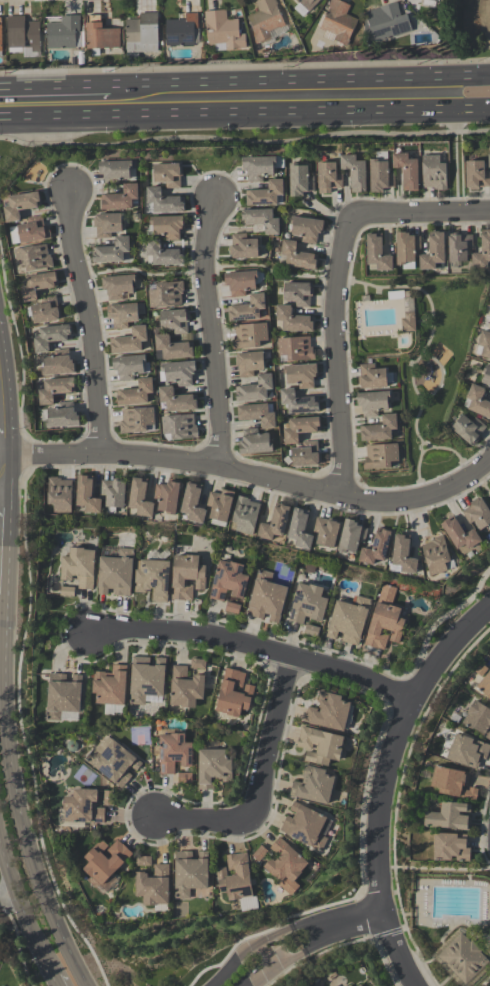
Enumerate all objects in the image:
building: (437, 0)
building: (429, 3)
building: (304, 6)
building: (265, 20)
building: (337, 23)
building: (385, 23)
building: (181, 31)
building: (223, 32)
building: (64, 33)
building: (141, 33)
building: (100, 35)
building: (23, 36)
building: (0, 41)
road: (300, 83)
road: (55, 89)
road: (244, 113)
building: (489, 160)
road: (455, 162)
building: (260, 166)
building: (117, 170)
building: (406, 170)
building: (354, 172)
building: (433, 173)
building: (167, 175)
building: (476, 175)
building: (379, 176)
building: (328, 178)
building: (299, 180)
building: (264, 194)
building: (119, 198)
building: (163, 201)
building: (21, 205)
road: (419, 216)
building: (260, 219)
building: (106, 225)
building: (167, 226)
building: (306, 229)
building: (30, 231)
building: (242, 247)
building: (459, 247)
building: (406, 249)
building: (111, 251)
building: (482, 252)
building: (433, 253)
building: (163, 254)
building: (377, 254)
building: (297, 256)
building: (33, 258)
building: (240, 283)
building: (38, 285)
building: (118, 287)
building: (298, 293)
building: (166, 294)
building: (489, 302)
building: (247, 309)
building: (45, 310)
building: (122, 315)
building: (293, 320)
road: (88, 321)
building: (174, 321)
building: (407, 322)
building: (489, 326)
road: (209, 332)
building: (249, 335)
building: (50, 337)
building: (129, 341)
building: (484, 344)
building: (173, 348)
building: (295, 349)
road: (336, 355)
building: (58, 363)
building: (248, 363)
building: (128, 367)
building: (178, 373)
building: (301, 375)
building: (486, 375)
building: (371, 377)
building: (55, 389)
building: (254, 389)
building: (489, 391)
building: (135, 393)
building: (177, 400)
building: (298, 402)
building: (372, 402)
building: (478, 402)
building: (257, 415)
building: (62, 416)
building: (136, 420)
building: (179, 427)
building: (300, 429)
building: (379, 429)
building: (468, 429)
road: (2, 434)
building: (254, 442)
building: (306, 455)
building: (380, 456)
road: (3, 468)
road: (223, 468)
road: (1, 481)
road: (467, 482)
building: (113, 494)
road: (1, 495)
building: (60, 495)
building: (87, 495)
building: (167, 497)
building: (140, 498)
building: (192, 504)
building: (220, 507)
building: (477, 514)
building: (245, 516)
building: (274, 523)
building: (299, 529)
building: (325, 533)
building: (459, 534)
building: (351, 537)
building: (376, 548)
building: (403, 555)
building: (436, 555)
building: (78, 567)
building: (116, 573)
building: (186, 577)
building: (153, 579)
building: (228, 581)
building: (67, 592)
building: (266, 598)
building: (307, 604)
building: (232, 608)
building: (384, 620)
building: (349, 621)
building: (311, 631)
road: (255, 647)
building: (197, 664)
building: (146, 679)
building: (485, 686)
building: (186, 688)
building: (110, 689)
building: (233, 694)
building: (63, 696)
building: (328, 712)
building: (69, 716)
building: (478, 719)
park: (139, 736)
building: (320, 746)
building: (467, 752)
building: (173, 753)
building: (114, 763)
building: (213, 768)
building: (184, 778)
building: (452, 783)
road: (383, 784)
road: (264, 785)
building: (313, 786)
building: (108, 798)
building: (80, 809)
road: (19, 817)
building: (448, 817)
building: (305, 827)
building: (450, 848)
building: (259, 854)
building: (105, 861)
building: (142, 861)
building: (285, 867)
building: (189, 874)
building: (237, 882)
building: (153, 888)
road: (7, 897)
road: (22, 911)
road: (356, 921)
road: (330, 927)
road: (245, 949)
toll booth: (303, 951)
building: (463, 958)
road: (274, 967)
road: (53, 981)
building: (359, 985)

